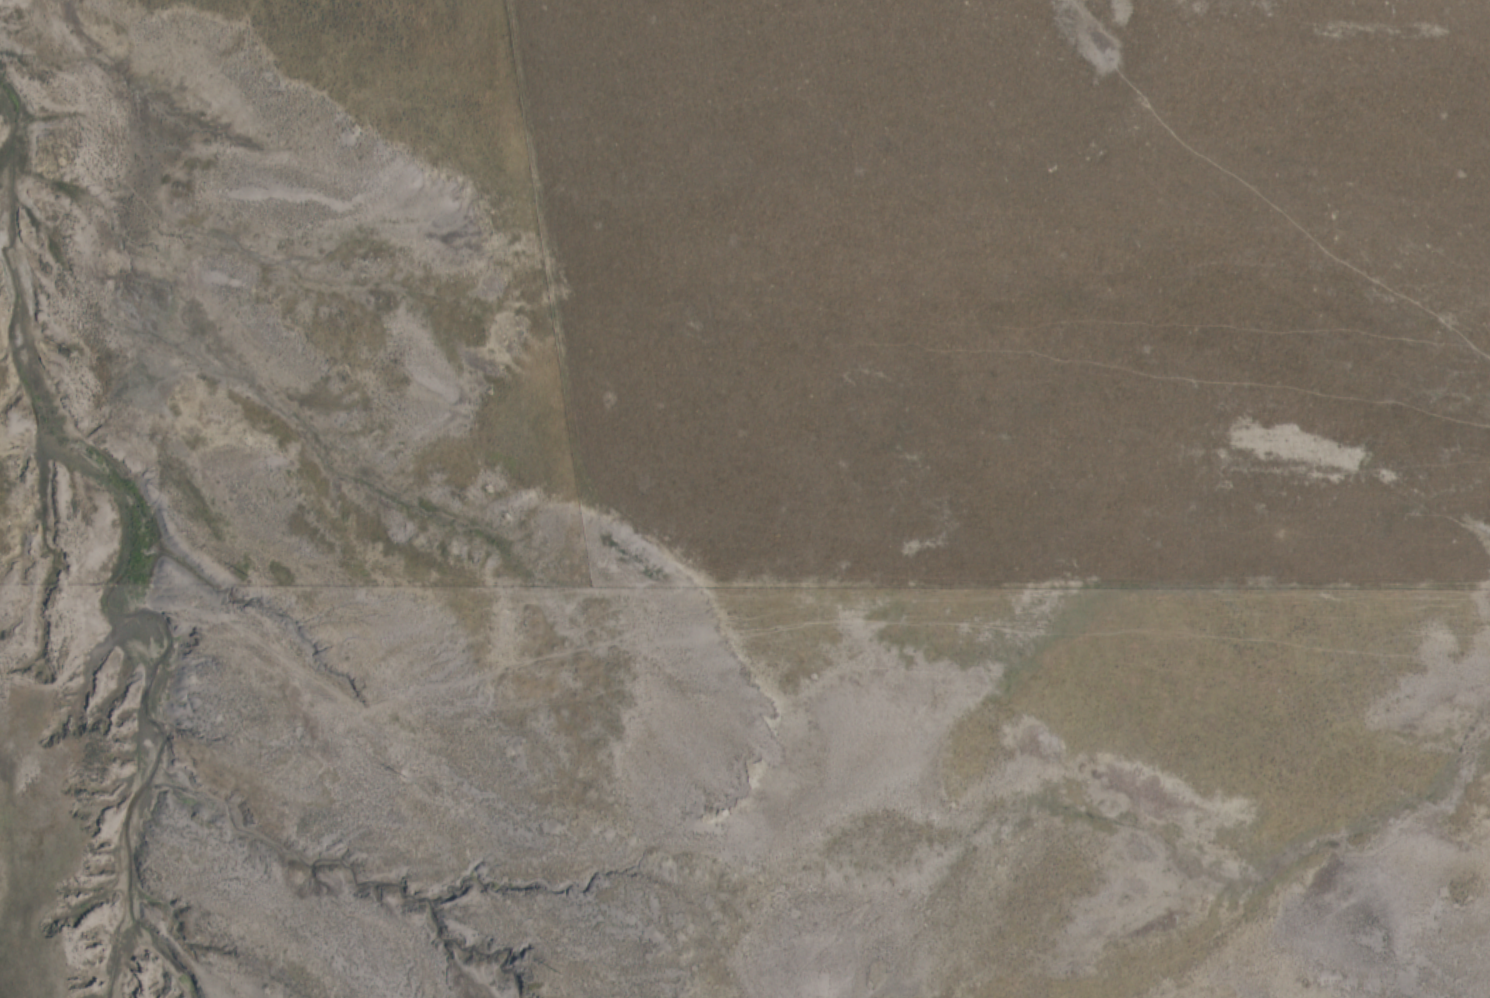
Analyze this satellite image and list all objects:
power tower: (80, 352)
power tower: (255, 576)
power tower: (412, 776)
power tower: (567, 972)

